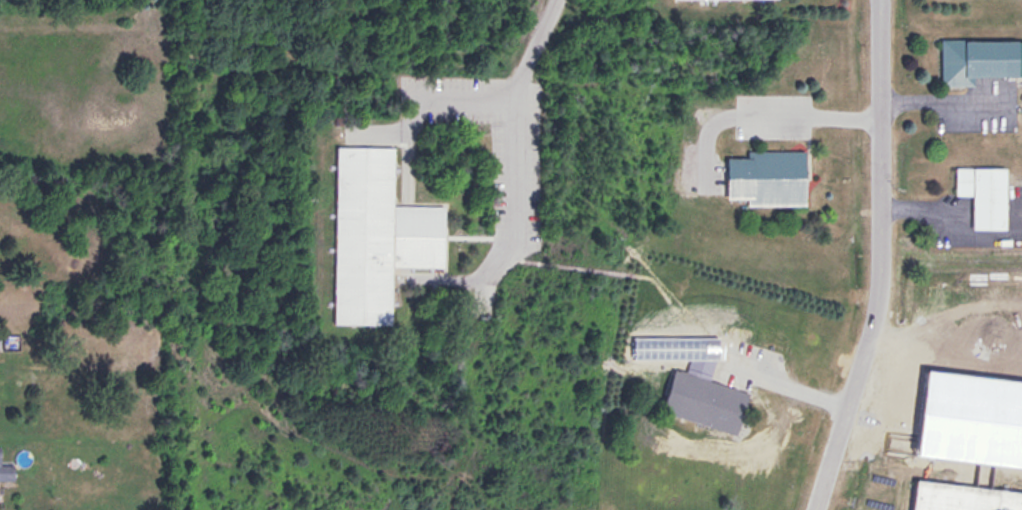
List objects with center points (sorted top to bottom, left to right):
road: (540, 48)
building: (979, 57)
road: (764, 111)
building: (770, 175)
building: (986, 192)
building: (378, 233)
road: (881, 259)
road: (768, 372)
building: (707, 399)
building: (6, 467)
building: (965, 496)

